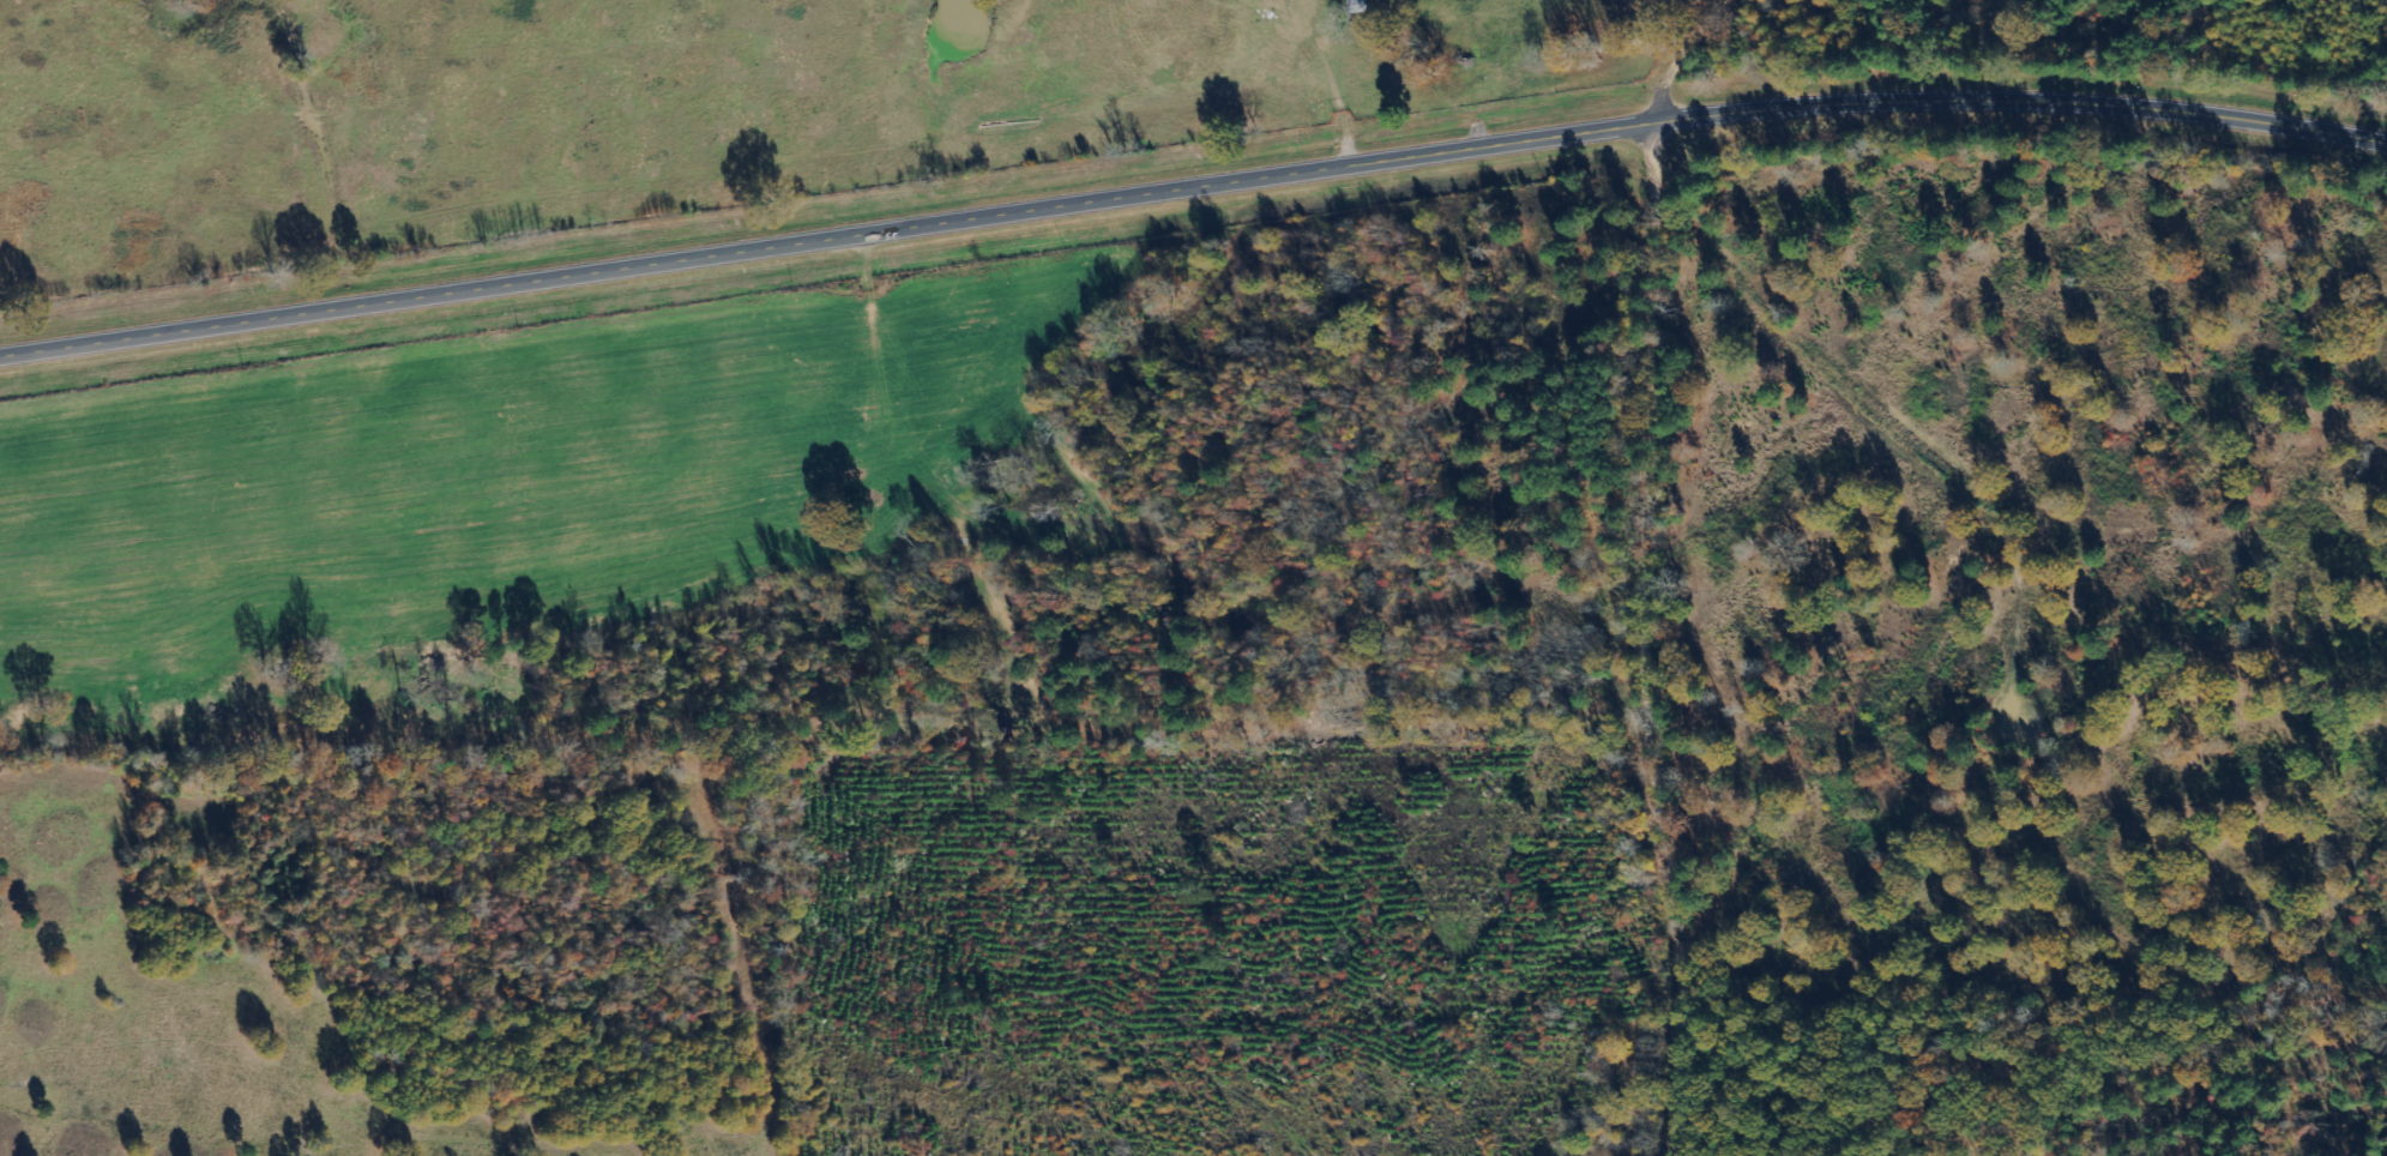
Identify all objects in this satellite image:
road: (1689, 54)
road: (1192, 186)
road: (1648, 637)

